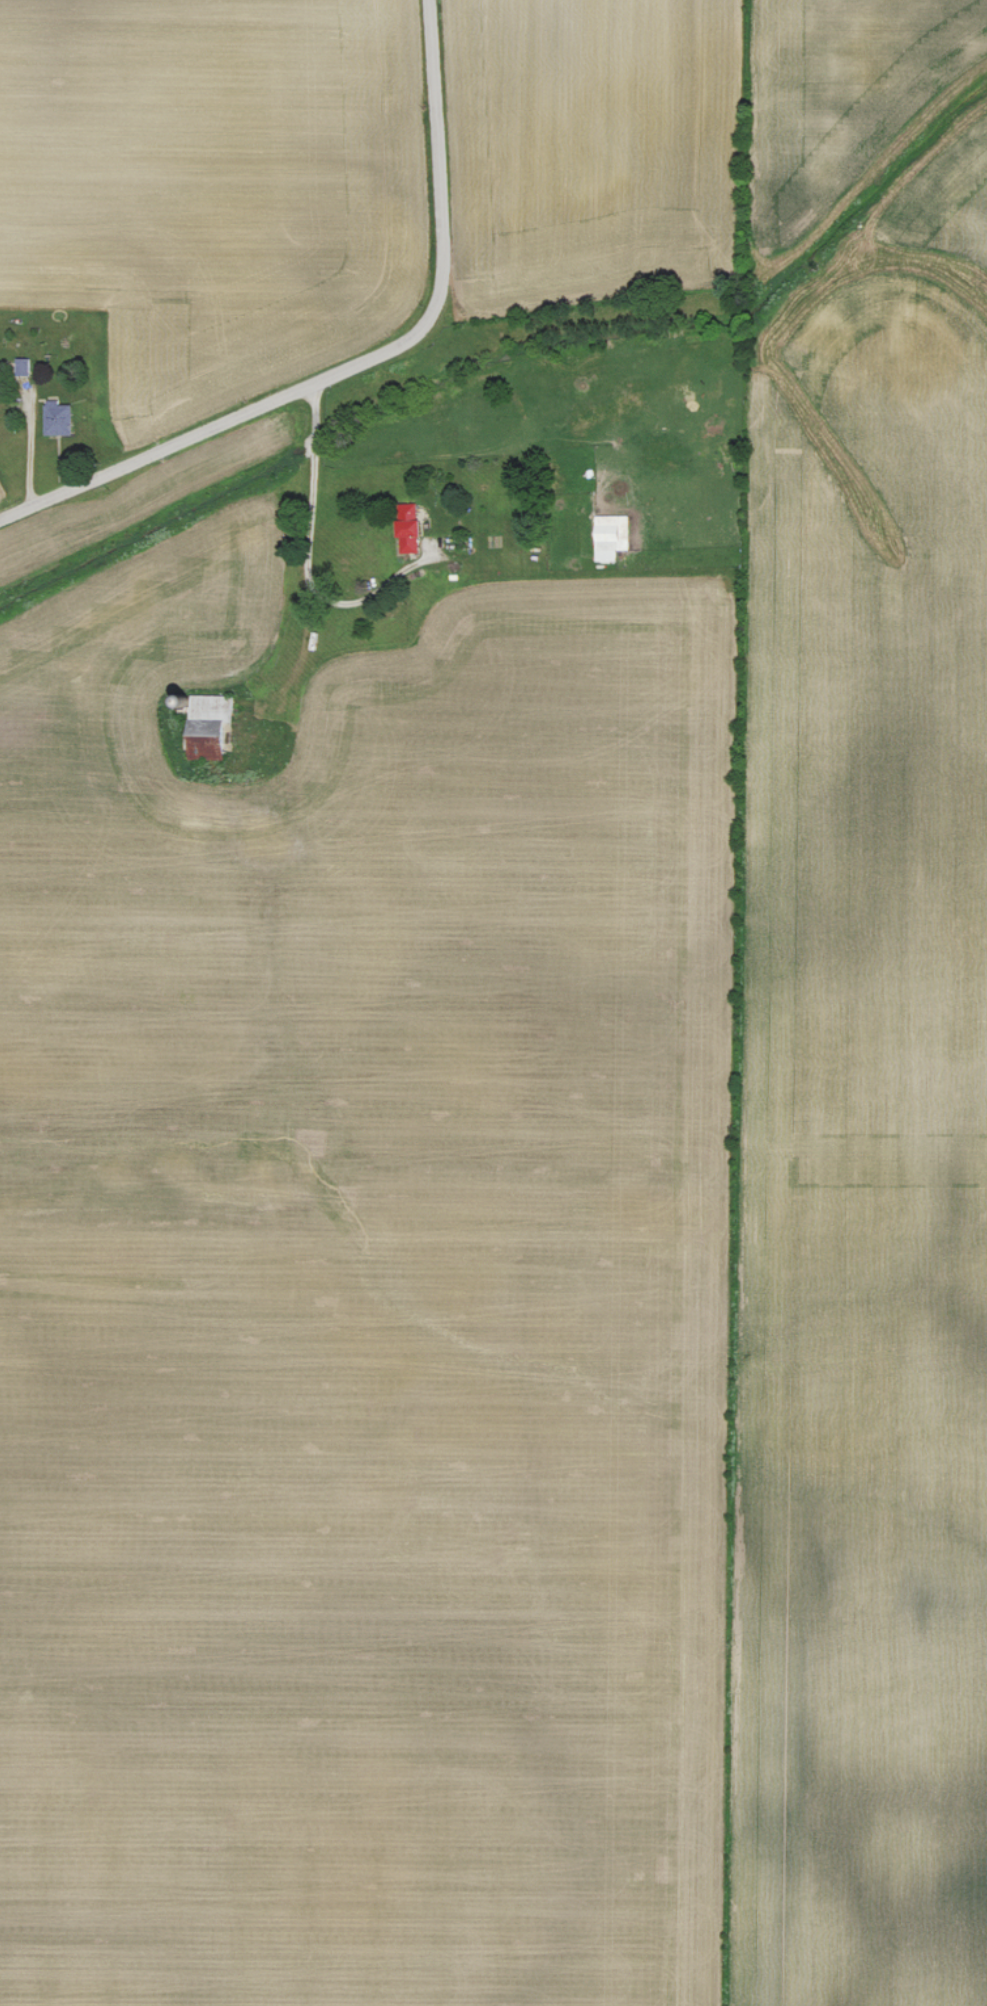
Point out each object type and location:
road: (367, 361)
building: (21, 365)
building: (55, 418)
building: (405, 527)
building: (609, 535)
road: (307, 556)

